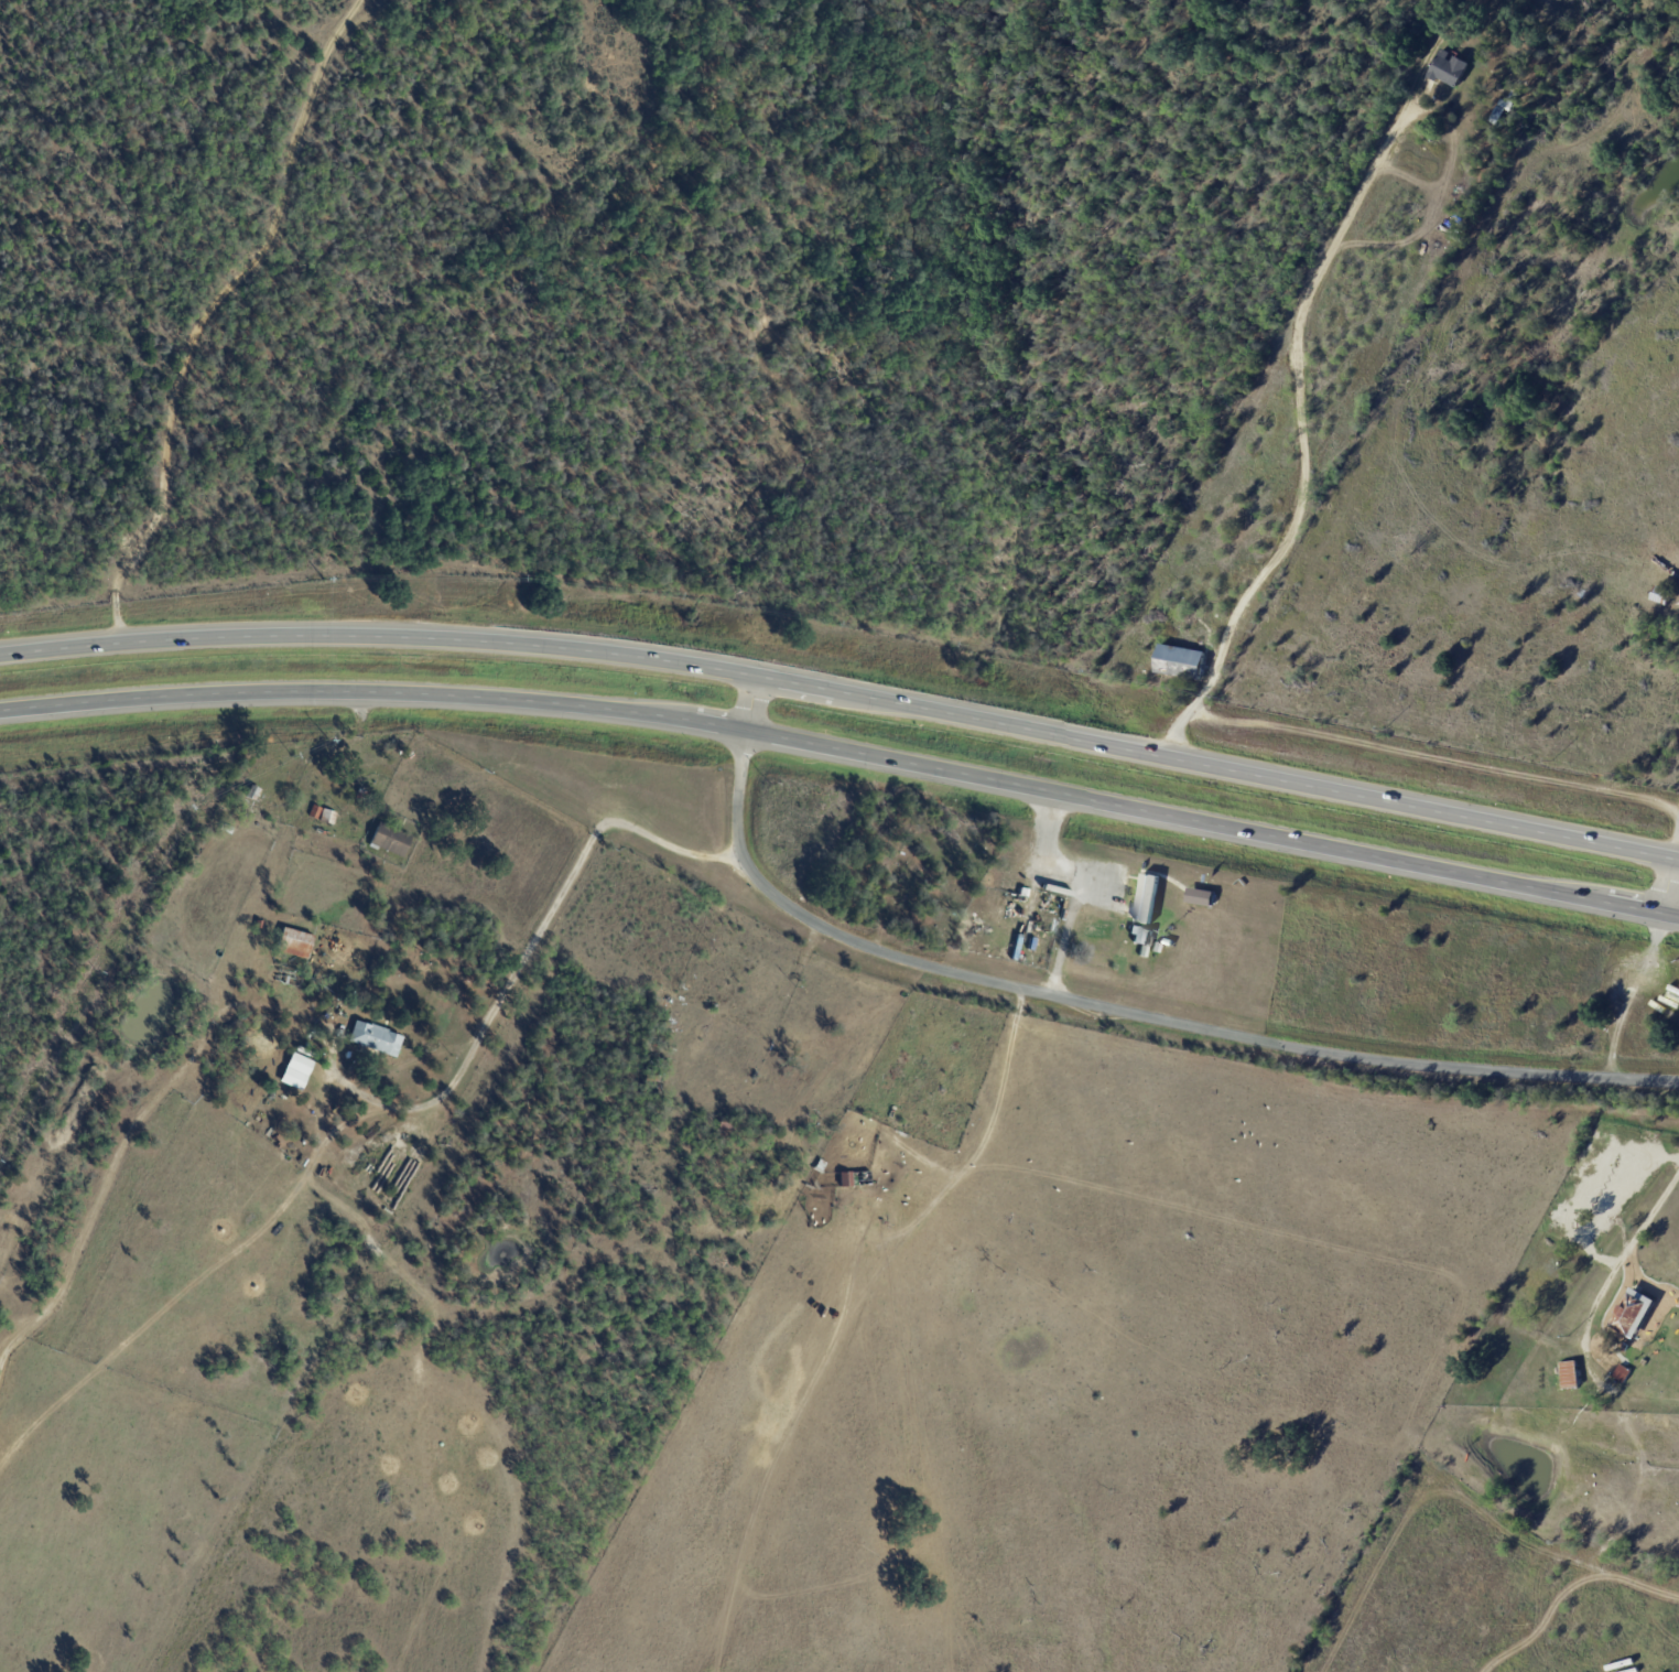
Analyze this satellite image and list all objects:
building: (1449, 69)
road: (1299, 439)
building: (1665, 595)
road: (381, 636)
building: (1180, 662)
road: (845, 747)
road: (1220, 769)
building: (252, 792)
building: (314, 812)
building: (328, 818)
building: (226, 829)
building: (390, 840)
road: (1677, 846)
road: (1042, 869)
road: (1671, 886)
building: (1023, 892)
building: (1147, 899)
park: (1011, 925)
building: (1139, 937)
road: (1065, 941)
building: (294, 942)
road: (520, 964)
building: (664, 997)
road: (1102, 1008)
building: (376, 1038)
building: (795, 1043)
building: (305, 1053)
building: (295, 1071)
building: (766, 1077)
building: (649, 1086)
building: (729, 1123)
building: (855, 1179)
road: (1624, 1258)
building: (1536, 1287)
building: (1635, 1313)
building: (1645, 1362)
building: (1623, 1373)
building: (1571, 1376)
building: (1558, 1398)
building: (1602, 1415)

